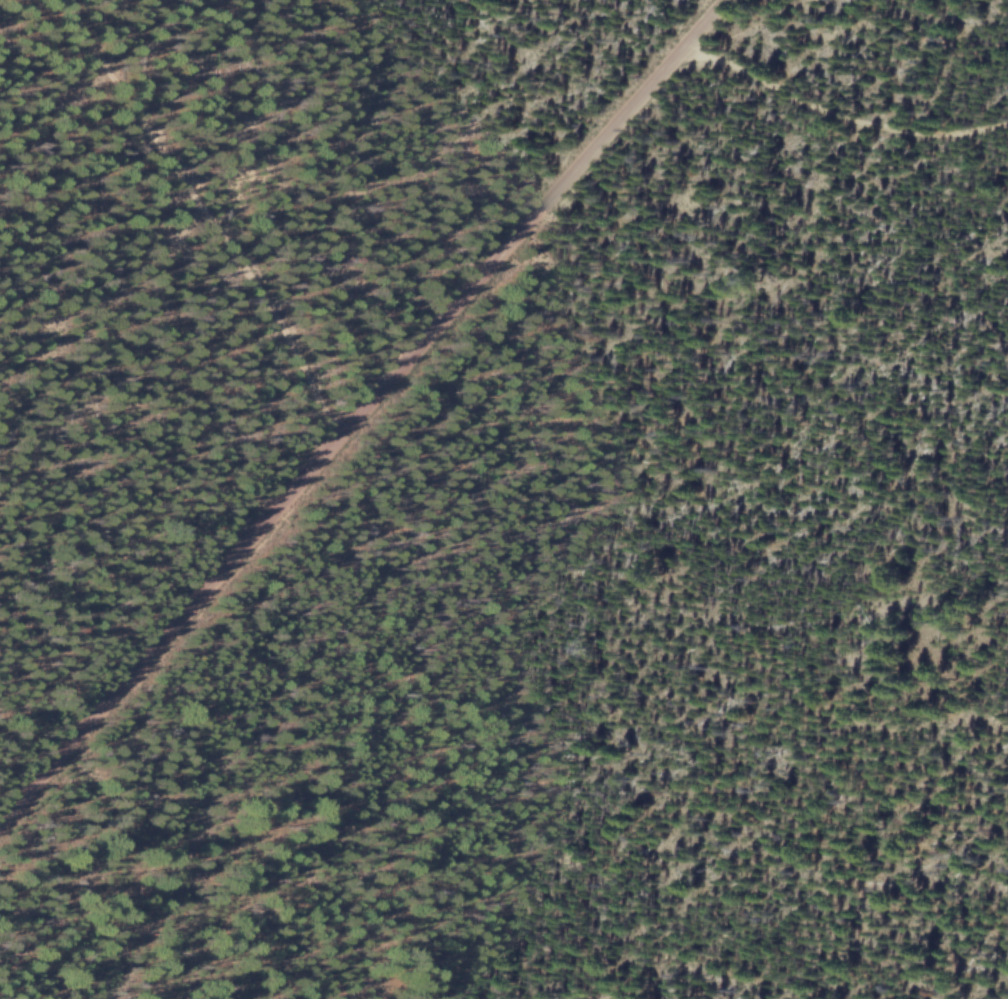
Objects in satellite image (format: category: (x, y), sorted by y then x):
road: (842, 114)
road: (206, 215)
road: (361, 410)

